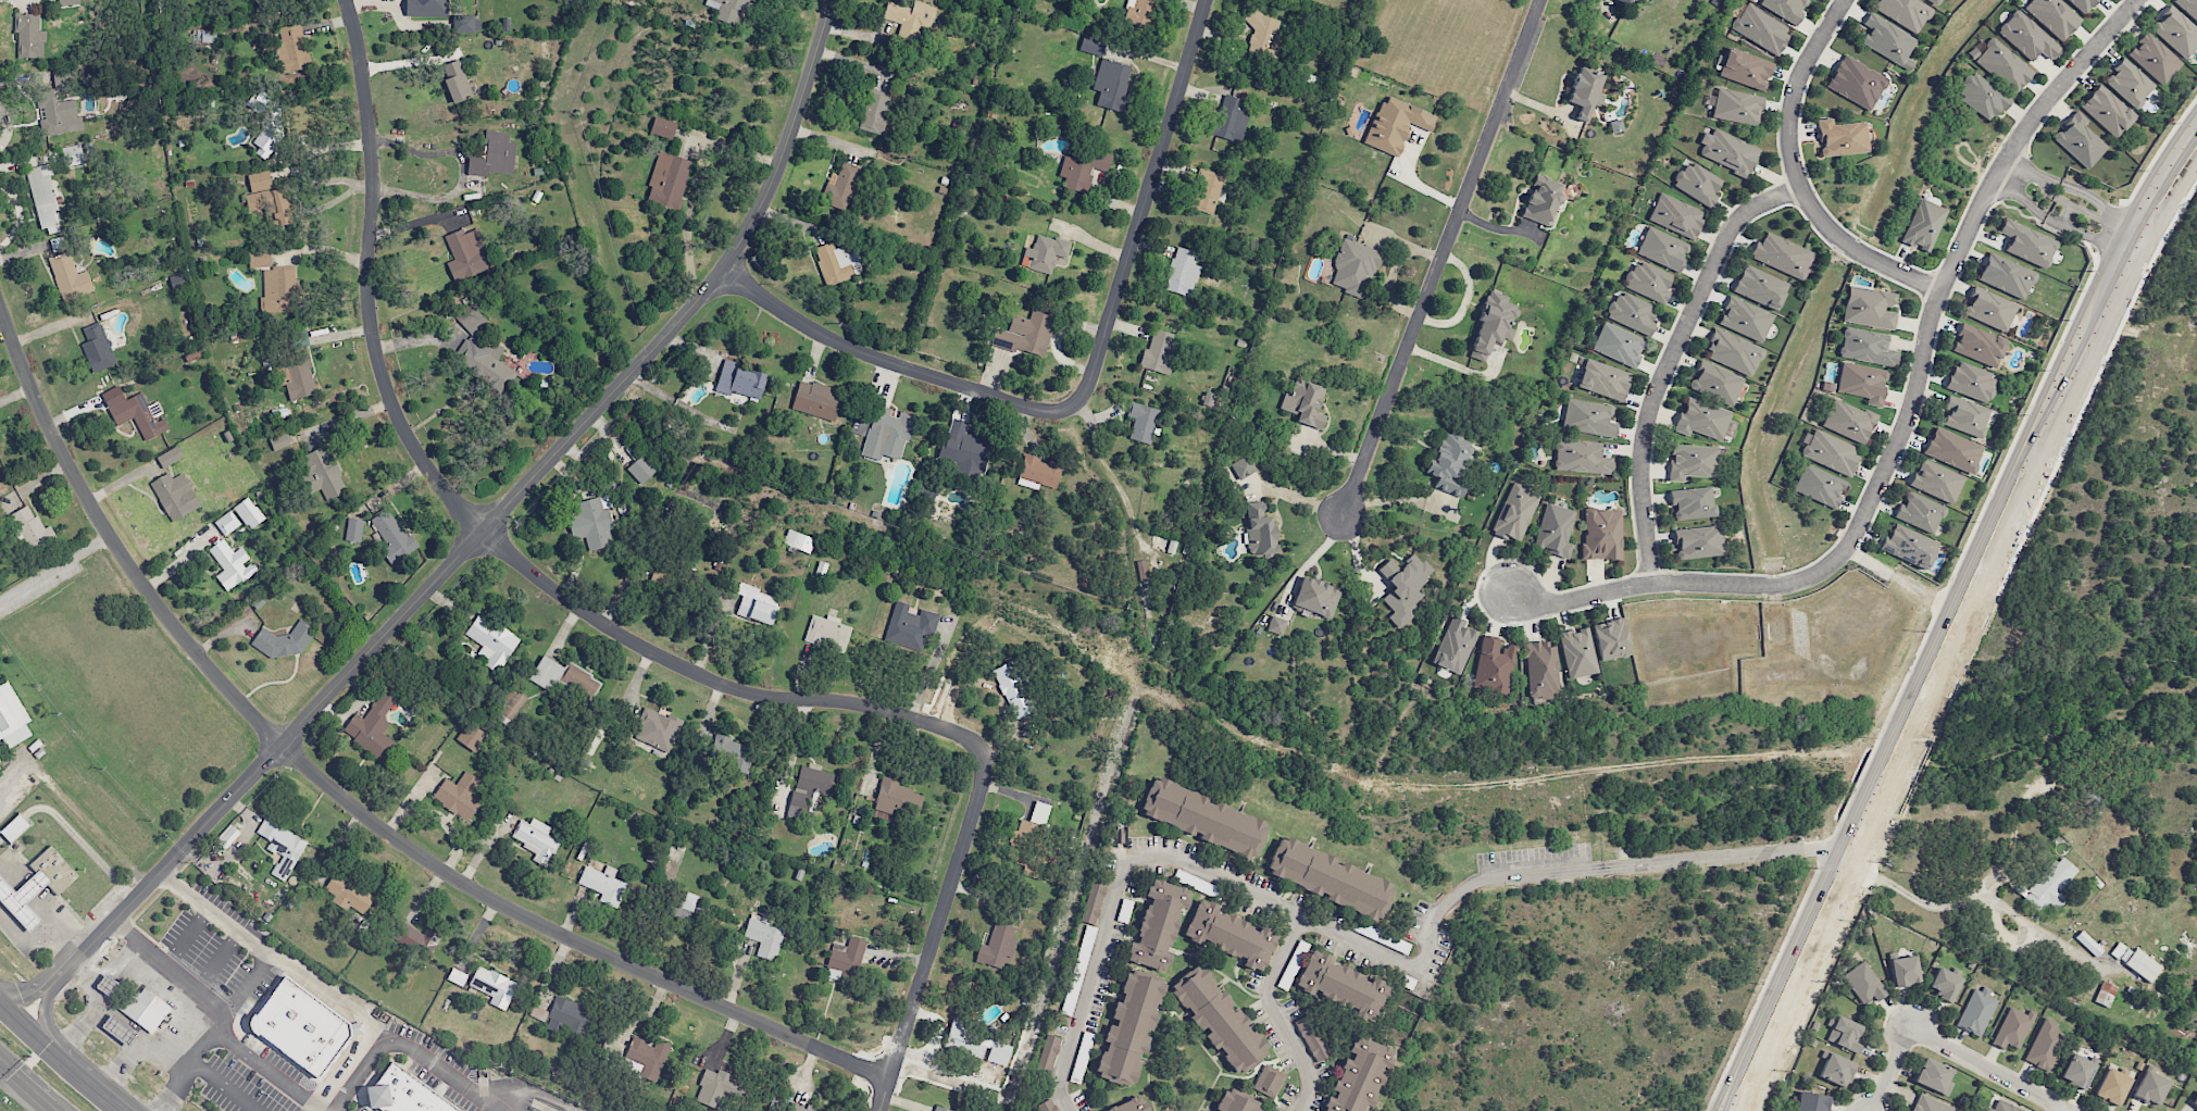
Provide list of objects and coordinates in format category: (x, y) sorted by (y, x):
building: (1624, 1)
building: (1932, 1)
building: (68, 2)
building: (2082, 4)
building: (426, 8)
building: (2188, 8)
building: (1785, 9)
building: (727, 10)
building: (1139, 12)
building: (1903, 12)
building: (2052, 16)
building: (910, 18)
building: (466, 24)
building: (1760, 28)
building: (2176, 32)
building: (1263, 34)
building: (28, 36)
building: (205, 36)
building: (2026, 36)
building: (1887, 40)
building: (1091, 45)
building: (291, 48)
building: (2154, 59)
building: (2000, 63)
building: (1745, 68)
building: (62, 76)
building: (455, 82)
building: (1856, 83)
building: (2129, 83)
building: (1111, 85)
building: (1585, 91)
building: (1982, 97)
building: (1736, 107)
building: (2107, 111)
building: (57, 114)
building: (1229, 118)
building: (266, 123)
building: (1395, 124)
building: (662, 127)
building: (1842, 137)
building: (2079, 140)
building: (1727, 150)
building: (72, 155)
building: (494, 155)
road: (2021, 166)
building: (1082, 167)
road: (462, 170)
road: (1797, 177)
building: (667, 180)
building: (1697, 184)
building: (842, 185)
building: (1206, 191)
road: (2082, 191)
road: (2051, 192)
building: (43, 198)
building: (267, 199)
building: (1543, 200)
road: (2029, 202)
road: (1143, 207)
building: (1675, 215)
road: (2068, 215)
road: (2094, 215)
building: (1923, 225)
road: (2123, 233)
road: (2096, 237)
building: (2027, 244)
road: (2135, 244)
building: (1662, 249)
building: (466, 253)
building: (1044, 253)
building: (1782, 254)
road: (1438, 261)
building: (837, 262)
building: (1355, 267)
building: (1182, 272)
building: (2006, 276)
building: (70, 277)
building: (178, 280)
building: (274, 280)
building: (1648, 282)
building: (1760, 287)
building: (1869, 308)
building: (1989, 309)
building: (1632, 312)
building: (1745, 319)
building: (471, 320)
building: (1493, 324)
building: (1026, 334)
building: (299, 337)
building: (1618, 345)
building: (1978, 345)
building: (1867, 347)
building: (97, 348)
building: (1157, 352)
building: (1733, 352)
building: (483, 360)
road: (1668, 360)
road: (885, 362)
building: (295, 375)
building: (1602, 379)
building: (739, 380)
building: (1862, 382)
building: (1971, 382)
building: (1715, 383)
building: (816, 400)
building: (1305, 402)
building: (140, 415)
building: (1964, 416)
building: (1588, 417)
building: (1848, 421)
building: (1141, 422)
road: (1905, 424)
building: (858, 430)
building: (886, 434)
building: (278, 441)
building: (965, 450)
building: (1952, 450)
building: (1828, 451)
building: (170, 457)
building: (1581, 457)
building: (1692, 462)
building: (1449, 463)
building: (1243, 467)
building: (640, 469)
building: (322, 473)
building: (1038, 473)
road: (2030, 477)
building: (1936, 480)
building: (1819, 486)
building: (175, 495)
building: (1693, 502)
building: (1920, 512)
building: (248, 513)
building: (1514, 513)
building: (594, 516)
road: (476, 520)
road: (494, 520)
building: (226, 523)
building: (29, 528)
building: (354, 529)
building: (1259, 530)
building: (1555, 530)
building: (1601, 534)
building: (392, 536)
building: (798, 541)
building: (1698, 541)
building: (1909, 546)
building: (232, 564)
road: (54, 567)
building: (659, 574)
road: (1905, 584)
building: (1403, 587)
building: (1316, 597)
building: (757, 604)
building: (910, 624)
building: (1275, 625)
building: (826, 633)
building: (1611, 639)
building: (282, 641)
building: (491, 641)
building: (1453, 646)
building: (1577, 652)
building: (1494, 665)
building: (1541, 671)
building: (566, 681)
building: (1013, 689)
building: (511, 703)
building: (10, 711)
building: (373, 728)
building: (657, 729)
building: (471, 737)
building: (731, 753)
building: (809, 788)
building: (458, 795)
building: (897, 798)
road: (347, 803)
building: (1203, 816)
building: (14, 827)
building: (1027, 832)
building: (225, 839)
building: (535, 839)
building: (282, 847)
road: (1731, 858)
building: (1035, 869)
building: (53, 870)
building: (1328, 877)
building: (602, 884)
building: (2049, 885)
park: (2039, 892)
building: (348, 895)
road: (1973, 895)
road: (1262, 897)
building: (23, 899)
gas station: (23, 899)
building: (1094, 900)
building: (685, 906)
building: (1158, 923)
road: (939, 925)
building: (1229, 934)
road: (42, 935)
building: (764, 937)
building: (415, 938)
road: (249, 941)
building: (997, 946)
building: (1300, 949)
road: (1808, 959)
building: (845, 961)
building: (2135, 961)
road: (112, 962)
building: (1903, 971)
building: (457, 976)
building: (1864, 983)
building: (1944, 984)
building: (107, 985)
gas station: (107, 985)
building: (1340, 985)
building: (492, 986)
road: (95, 988)
road: (30, 989)
building: (2105, 994)
traffic signals: (0, 998)
building: (146, 1008)
road: (42, 1011)
road: (197, 1011)
building: (1977, 1011)
road: (1276, 1014)
building: (1216, 1016)
building: (567, 1018)
road: (98, 1025)
building: (301, 1025)
building: (1128, 1027)
building: (2012, 1028)
building: (118, 1029)
gas station: (118, 1029)
building: (1845, 1034)
building: (1311, 1038)
building: (975, 1044)
building: (2044, 1045)
road: (149, 1047)
road: (1949, 1050)
road: (61, 1054)
building: (1048, 1054)
building: (648, 1057)
road: (444, 1065)
road: (341, 1068)
building: (1835, 1069)
building: (2076, 1071)
building: (1933, 1076)
building: (1358, 1077)
building: (1268, 1081)
road: (224, 1085)
road: (27, 1086)
building: (2112, 1086)
building: (715, 1087)
building: (2150, 1087)
building: (404, 1094)
road: (544, 1095)
building: (1811, 1101)
building: (1234, 1102)
building: (2194, 1103)
building: (1048, 1104)
building: (1126, 1104)
building: (1931, 1104)
building: (2003, 1107)
building: (797, 1108)
road: (316, 1109)
road: (515, 1109)
building: (940, 1109)
road: (2064, 1110)

